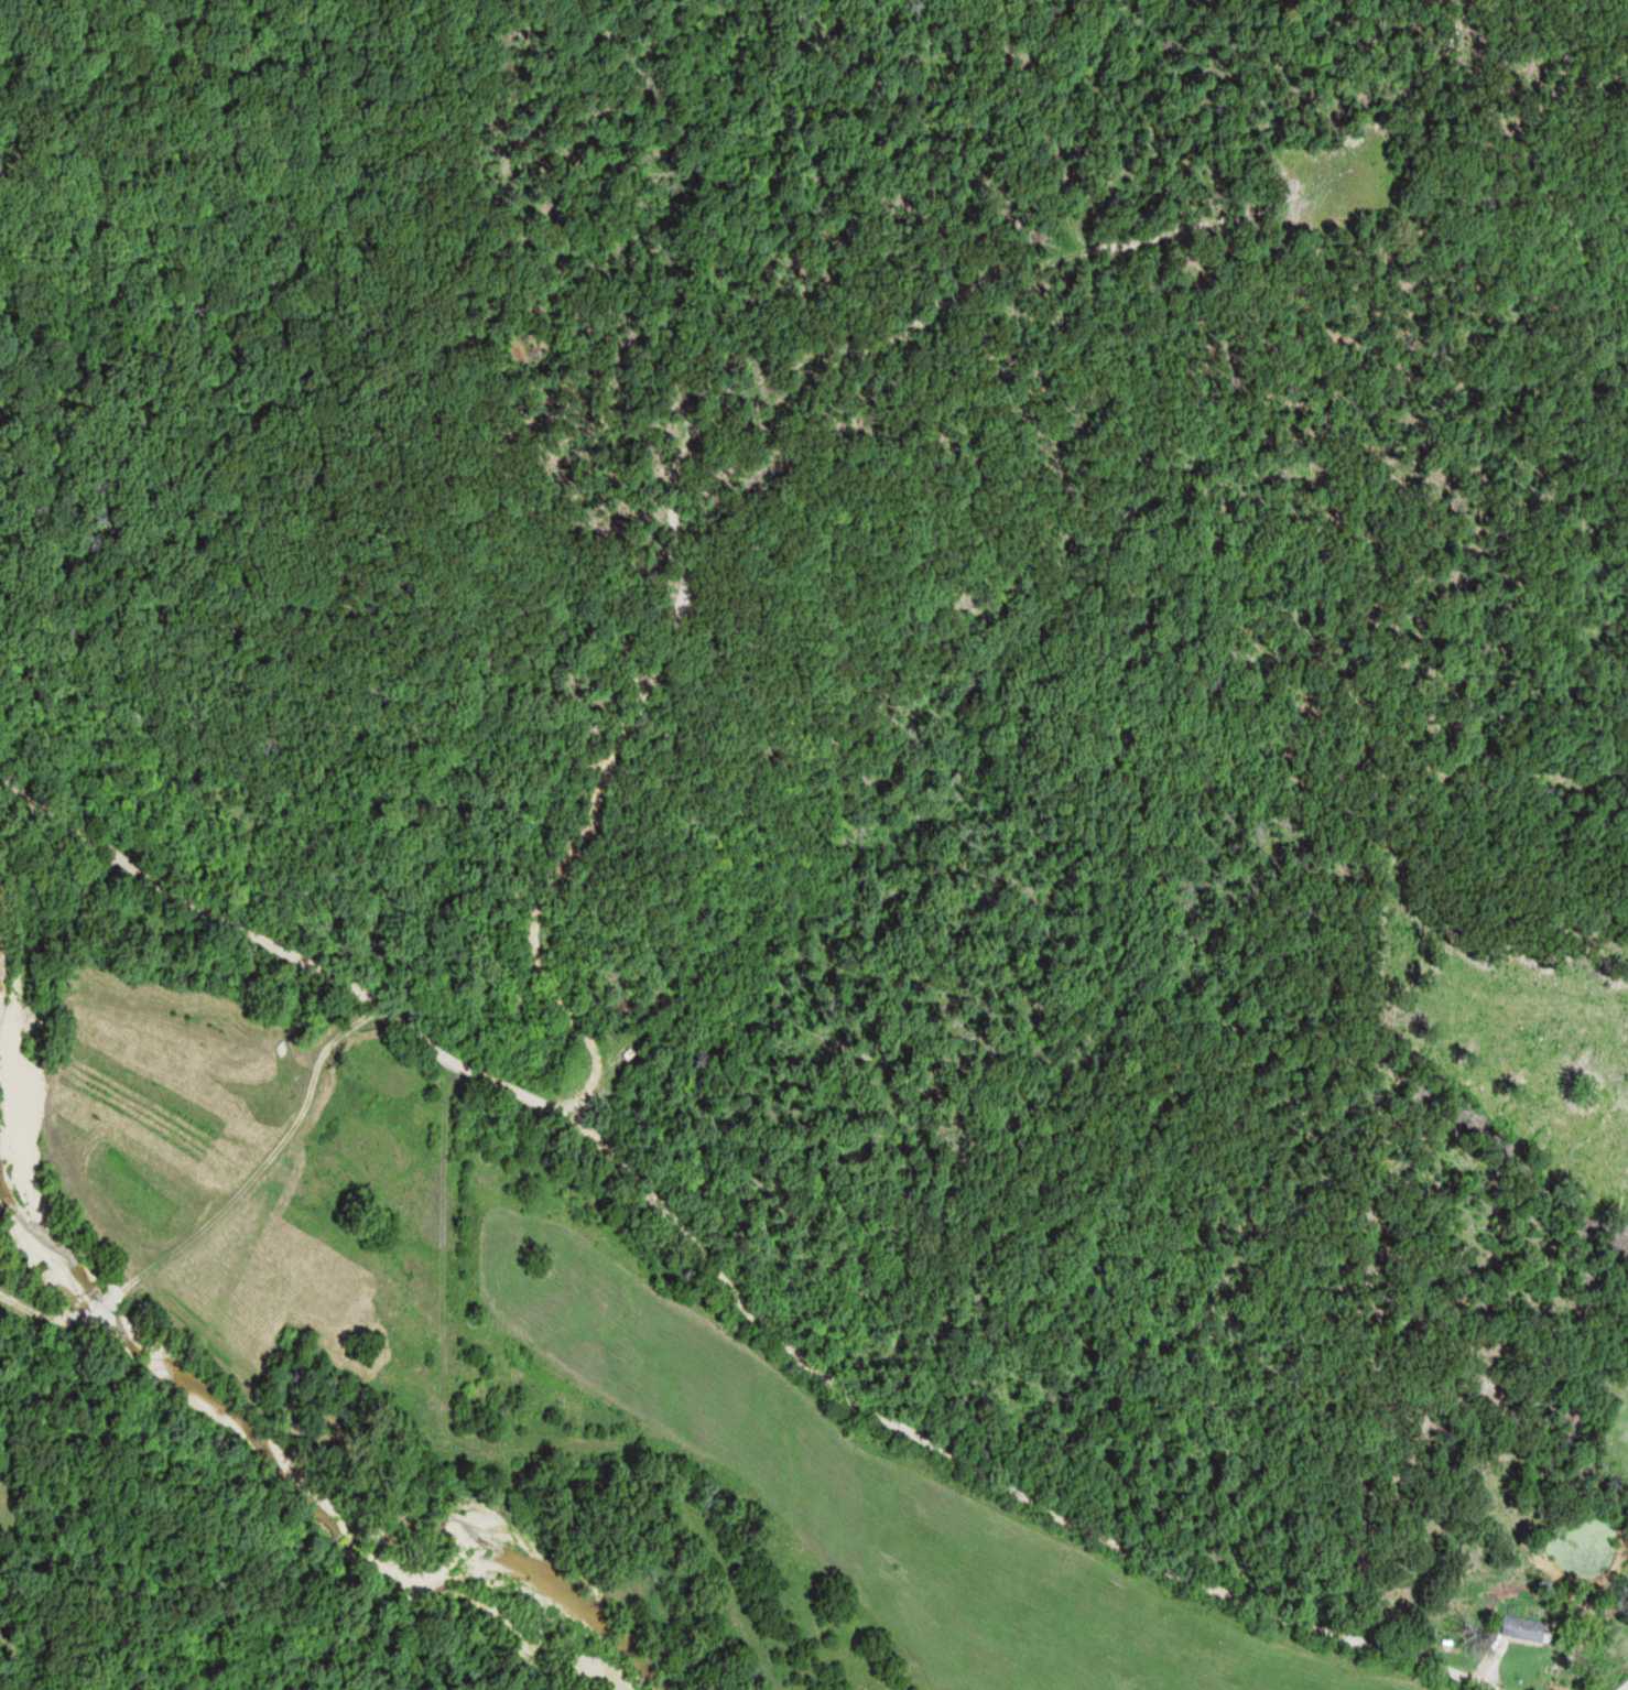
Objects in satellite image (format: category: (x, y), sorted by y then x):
road: (219, 1214)
road: (726, 1277)
park: (1609, 1433)
building: (1529, 1627)

